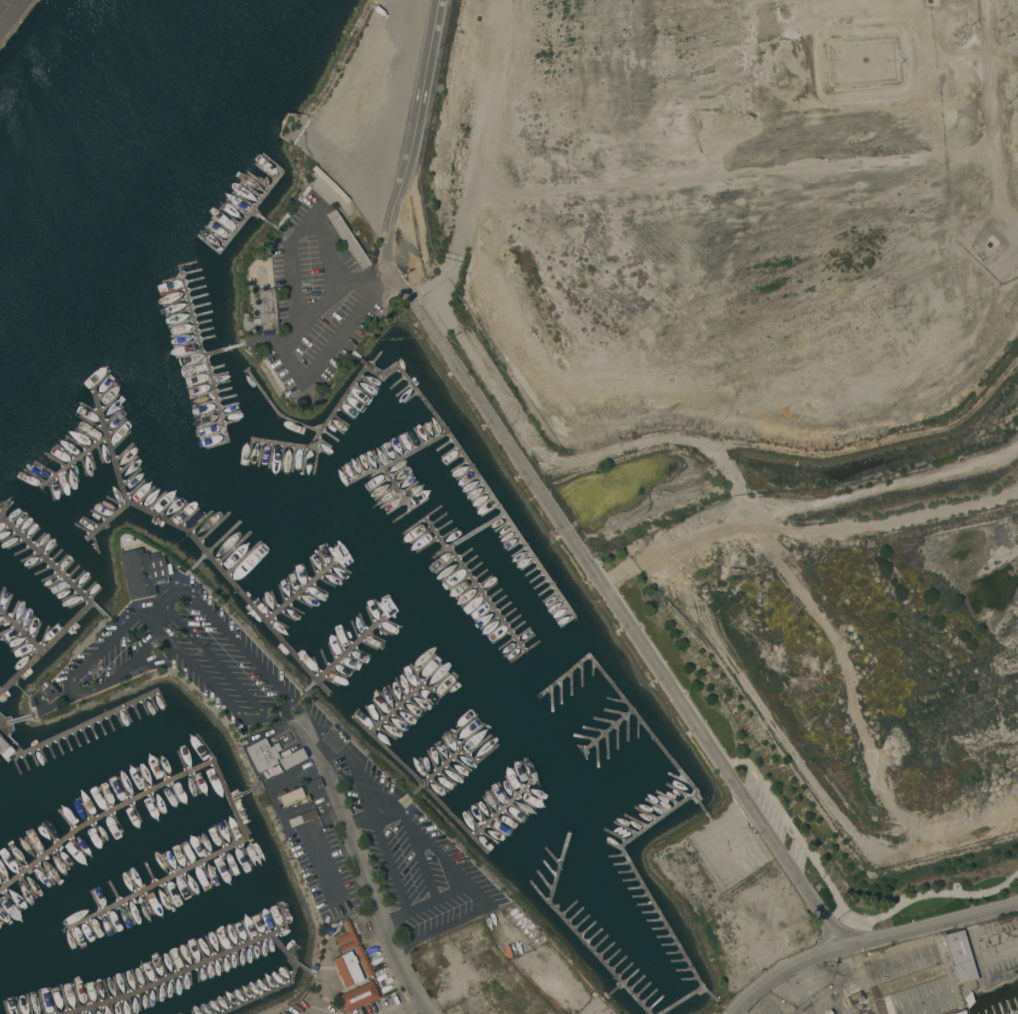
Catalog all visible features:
building: (308, 190)
pier: (269, 191)
building: (306, 200)
building: (301, 208)
building: (296, 214)
building: (290, 220)
pier: (243, 224)
road: (294, 237)
building: (347, 239)
building: (262, 313)
pier: (196, 328)
road: (287, 357)
pier: (217, 398)
pier: (276, 410)
pier: (323, 429)
pier: (400, 459)
pier: (74, 461)
pier: (474, 470)
pier: (397, 489)
road: (538, 495)
pier: (108, 520)
pier: (469, 536)
pier: (198, 542)
pier: (199, 561)
pier: (53, 564)
building: (142, 572)
pier: (476, 584)
pier: (301, 592)
pier: (47, 649)
road: (244, 653)
pier: (346, 654)
road: (224, 674)
road: (74, 675)
road: (200, 677)
building: (48, 692)
building: (30, 703)
building: (66, 723)
pier: (75, 729)
pier: (609, 730)
building: (4, 749)
building: (261, 755)
building: (291, 759)
road: (352, 763)
pier: (437, 771)
parking lot: (293, 772)
pier: (220, 775)
building: (312, 785)
pier: (423, 787)
pier: (240, 795)
building: (292, 797)
pier: (669, 812)
building: (301, 818)
road: (360, 867)
road: (453, 875)
road: (420, 901)
pier: (575, 932)
building: (346, 938)
road: (867, 943)
building: (959, 957)
building: (363, 961)
pier: (301, 966)
building: (347, 969)
pier: (179, 974)
pier: (284, 986)
pier: (615, 989)
pier: (709, 991)
building: (358, 997)
building: (855, 998)
building: (968, 1000)
road: (399, 1005)
parking lot: (312, 1012)
building: (828, 1012)
building: (960, 1012)
road: (306, 1013)
pier: (1015, 1013)

